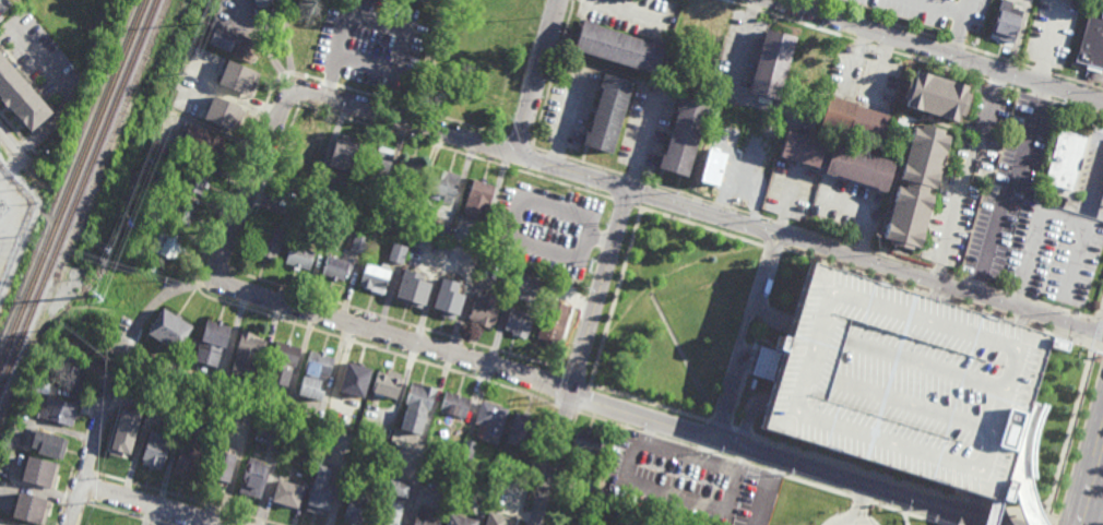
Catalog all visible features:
road: (735, 3)
road: (572, 4)
road: (936, 7)
road: (632, 9)
road: (752, 9)
building: (266, 12)
parking lot: (916, 12)
building: (352, 14)
building: (305, 19)
road: (876, 20)
building: (710, 22)
building: (1004, 22)
power tower: (201, 23)
building: (387, 23)
road: (957, 26)
road: (1046, 39)
building: (1091, 40)
road: (743, 44)
road: (952, 44)
building: (247, 46)
building: (330, 46)
road: (873, 46)
building: (618, 48)
building: (367, 50)
road: (940, 50)
road: (985, 53)
building: (401, 58)
road: (854, 59)
road: (1011, 61)
building: (769, 64)
building: (805, 64)
road: (1023, 65)
road: (881, 67)
road: (1041, 71)
building: (234, 76)
road: (536, 77)
road: (551, 79)
road: (1077, 82)
road: (996, 84)
road: (66, 91)
road: (1017, 91)
road: (1037, 96)
building: (20, 97)
building: (933, 97)
road: (1074, 107)
building: (216, 109)
building: (606, 115)
road: (567, 118)
building: (849, 122)
building: (769, 127)
building: (683, 138)
building: (308, 139)
road: (462, 140)
road: (521, 141)
road: (644, 142)
building: (752, 142)
building: (207, 144)
road: (14, 148)
road: (541, 150)
building: (167, 151)
road: (505, 151)
building: (796, 151)
road: (555, 154)
building: (343, 156)
road: (530, 160)
building: (1065, 160)
building: (377, 165)
road: (593, 167)
building: (719, 167)
building: (854, 170)
building: (735, 174)
building: (407, 175)
road: (969, 175)
railway: (72, 177)
road: (631, 178)
building: (194, 180)
building: (755, 181)
road: (251, 182)
building: (441, 186)
road: (1098, 187)
road: (1010, 188)
building: (913, 190)
railway: (76, 192)
building: (481, 192)
road: (262, 194)
road: (707, 202)
road: (787, 202)
road: (625, 203)
railway: (83, 205)
road: (519, 208)
building: (1102, 208)
gas station: (1102, 208)
road: (698, 210)
building: (372, 212)
building: (181, 213)
road: (1057, 215)
building: (406, 223)
road: (781, 224)
road: (700, 225)
building: (441, 232)
building: (479, 234)
road: (821, 237)
power substation: (16, 241)
building: (161, 242)
road: (782, 242)
building: (269, 243)
building: (357, 244)
road: (207, 247)
road: (774, 247)
road: (863, 250)
building: (132, 253)
building: (396, 254)
building: (298, 259)
road: (899, 262)
building: (432, 267)
building: (134, 269)
building: (335, 270)
road: (935, 273)
building: (372, 279)
road: (934, 279)
road: (957, 279)
building: (522, 286)
road: (977, 286)
building: (411, 291)
road: (995, 291)
road: (832, 294)
road: (616, 297)
road: (939, 297)
power tower: (98, 298)
road: (1016, 298)
road: (159, 299)
building: (447, 300)
building: (484, 309)
road: (1065, 311)
road: (772, 314)
building: (518, 321)
building: (551, 321)
building: (166, 327)
road: (1098, 329)
road: (742, 333)
building: (210, 341)
building: (48, 350)
building: (284, 351)
building: (245, 353)
road: (467, 355)
road: (582, 357)
road: (758, 358)
building: (317, 362)
road: (925, 365)
road: (112, 369)
building: (71, 377)
building: (280, 377)
building: (352, 378)
road: (577, 378)
building: (904, 381)
parking lot: (904, 381)
building: (384, 383)
building: (36, 385)
building: (312, 389)
building: (419, 395)
building: (452, 403)
road: (649, 403)
building: (284, 406)
road: (913, 406)
building: (58, 410)
building: (489, 420)
building: (353, 422)
building: (413, 422)
building: (520, 428)
road: (728, 428)
road: (1068, 434)
building: (430, 440)
building: (121, 441)
building: (586, 442)
building: (49, 443)
building: (419, 444)
building: (153, 449)
building: (465, 451)
road: (90, 454)
building: (186, 457)
building: (619, 460)
building: (220, 465)
road: (1024, 465)
building: (501, 466)
building: (38, 470)
building: (1021, 475)
building: (476, 476)
building: (251, 477)
road: (1089, 478)
road: (896, 480)
road: (851, 481)
building: (574, 487)
building: (285, 492)
building: (318, 494)
road: (188, 499)
building: (634, 501)
road: (156, 503)
building: (390, 503)
road: (859, 503)
building: (28, 506)
building: (356, 508)
road: (122, 514)
building: (424, 517)
building: (456, 520)
road: (846, 521)
building: (490, 524)

